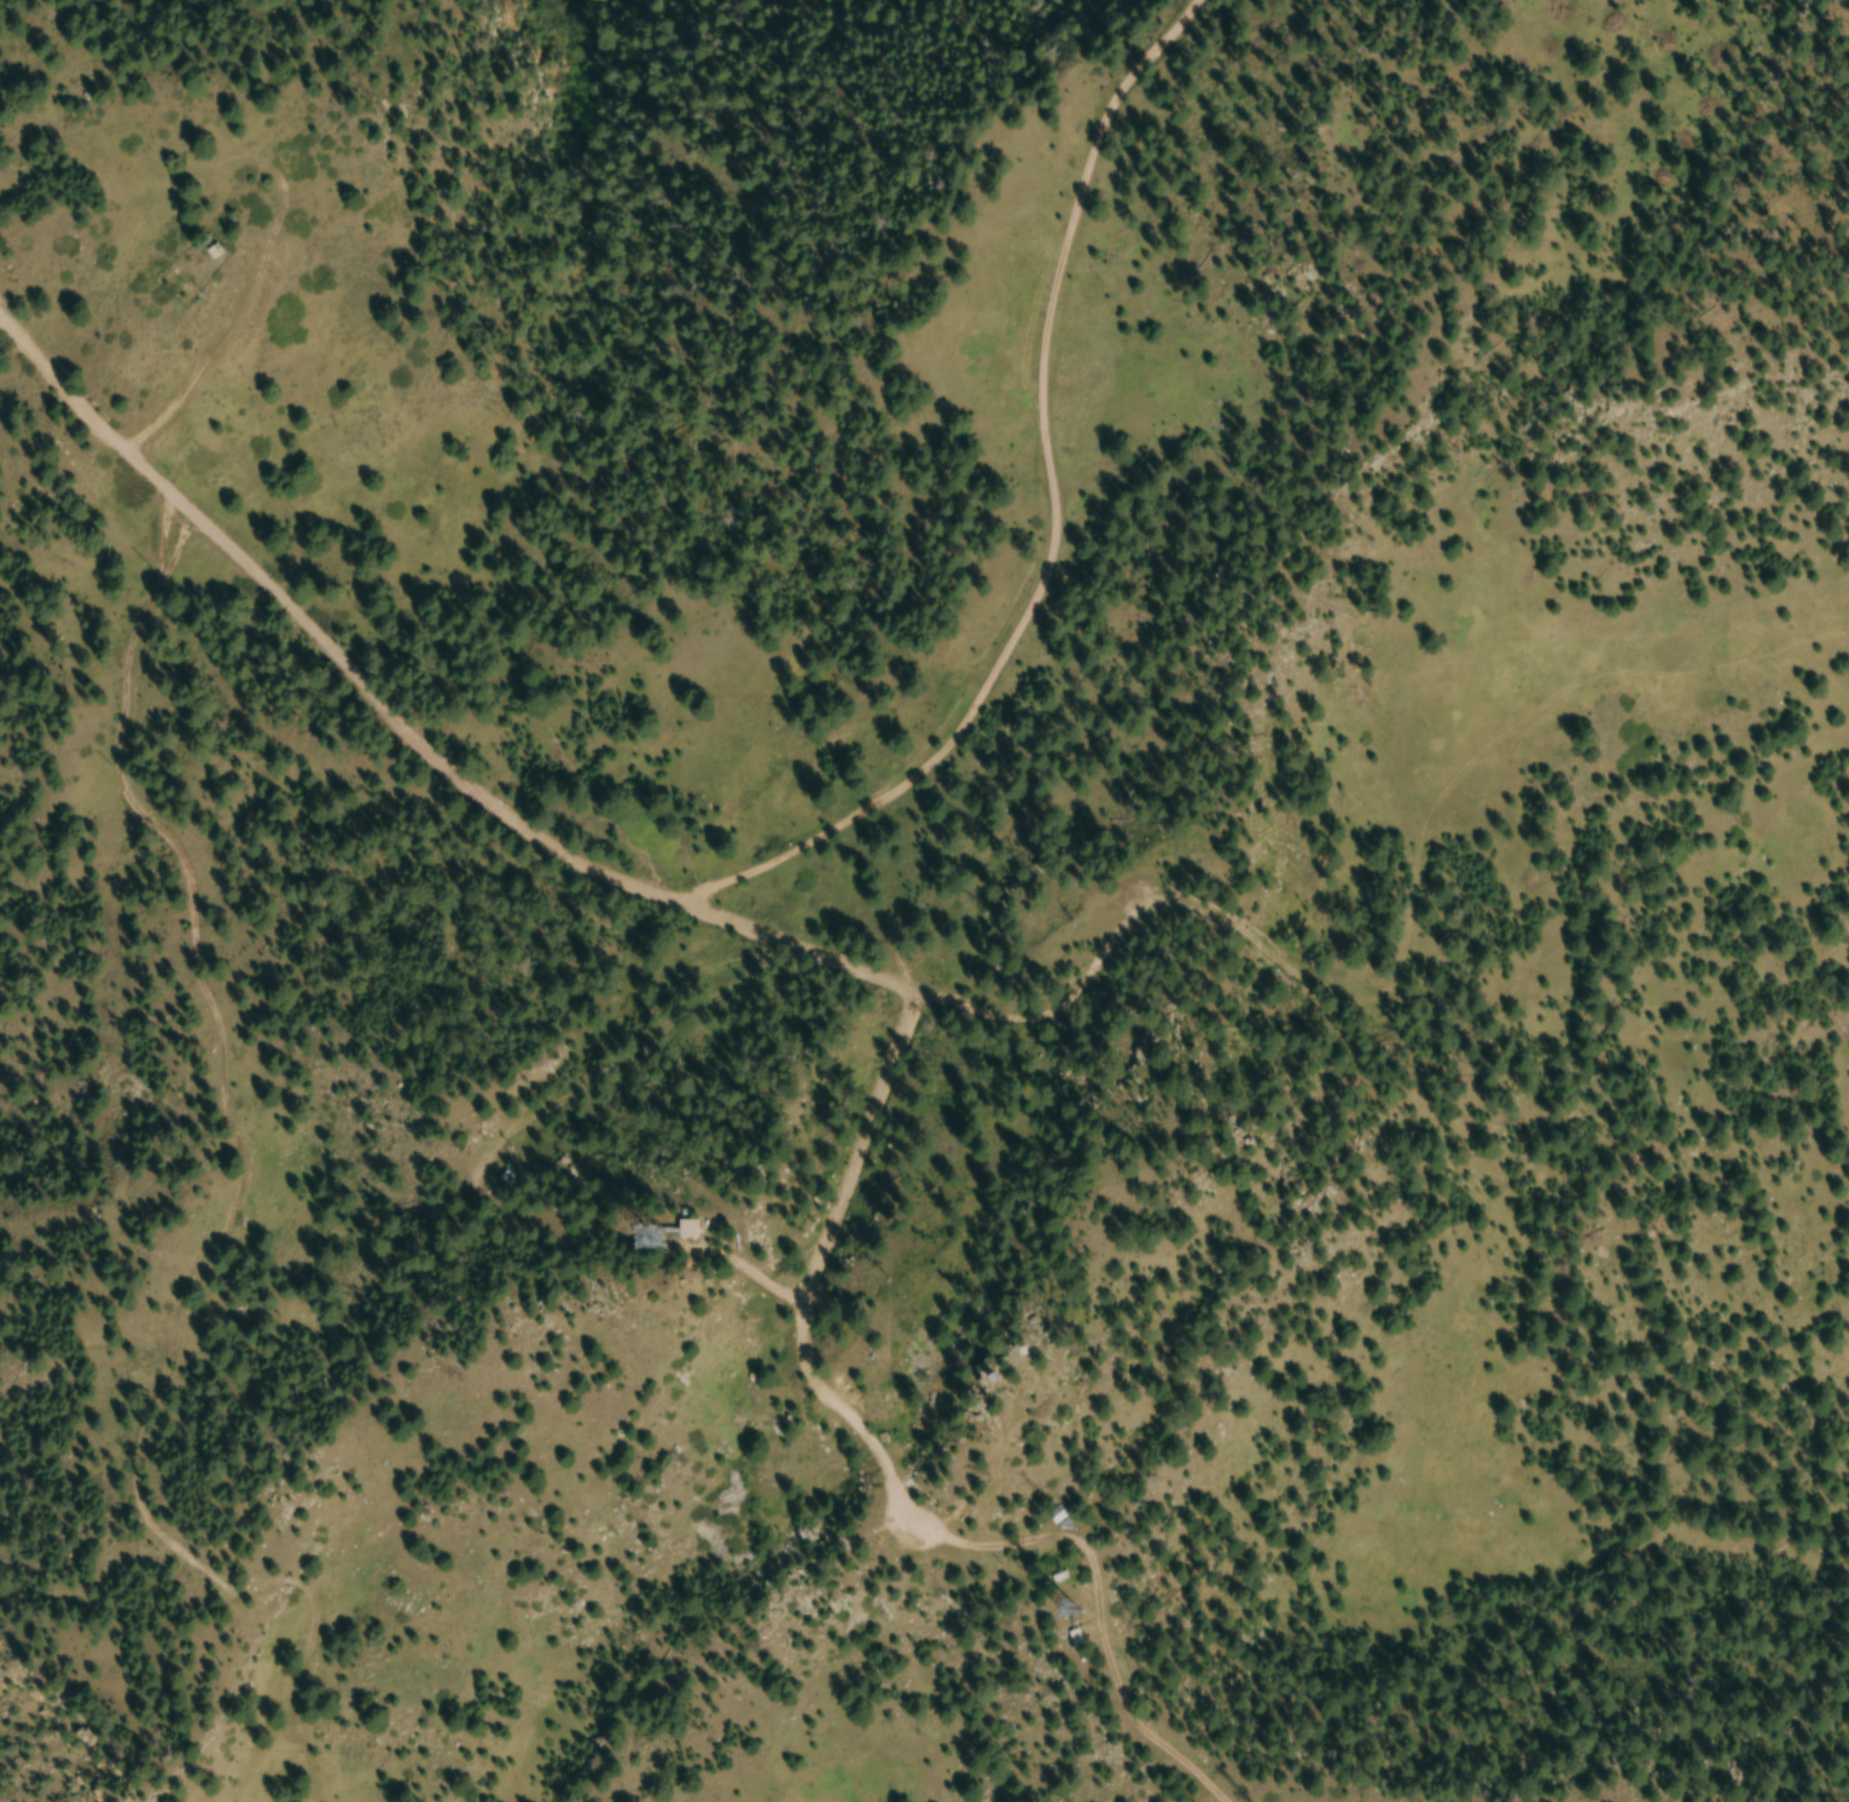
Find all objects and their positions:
road: (633, 893)
building: (694, 1232)

